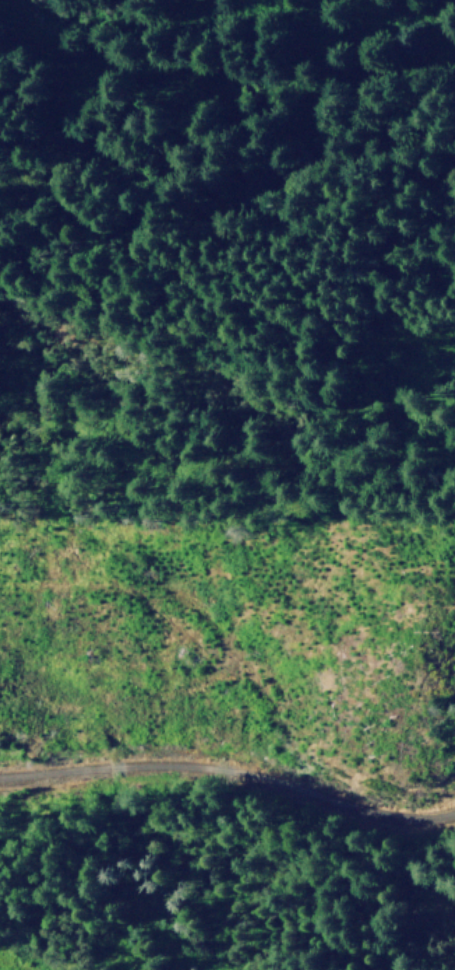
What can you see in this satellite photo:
road: (231, 773)

